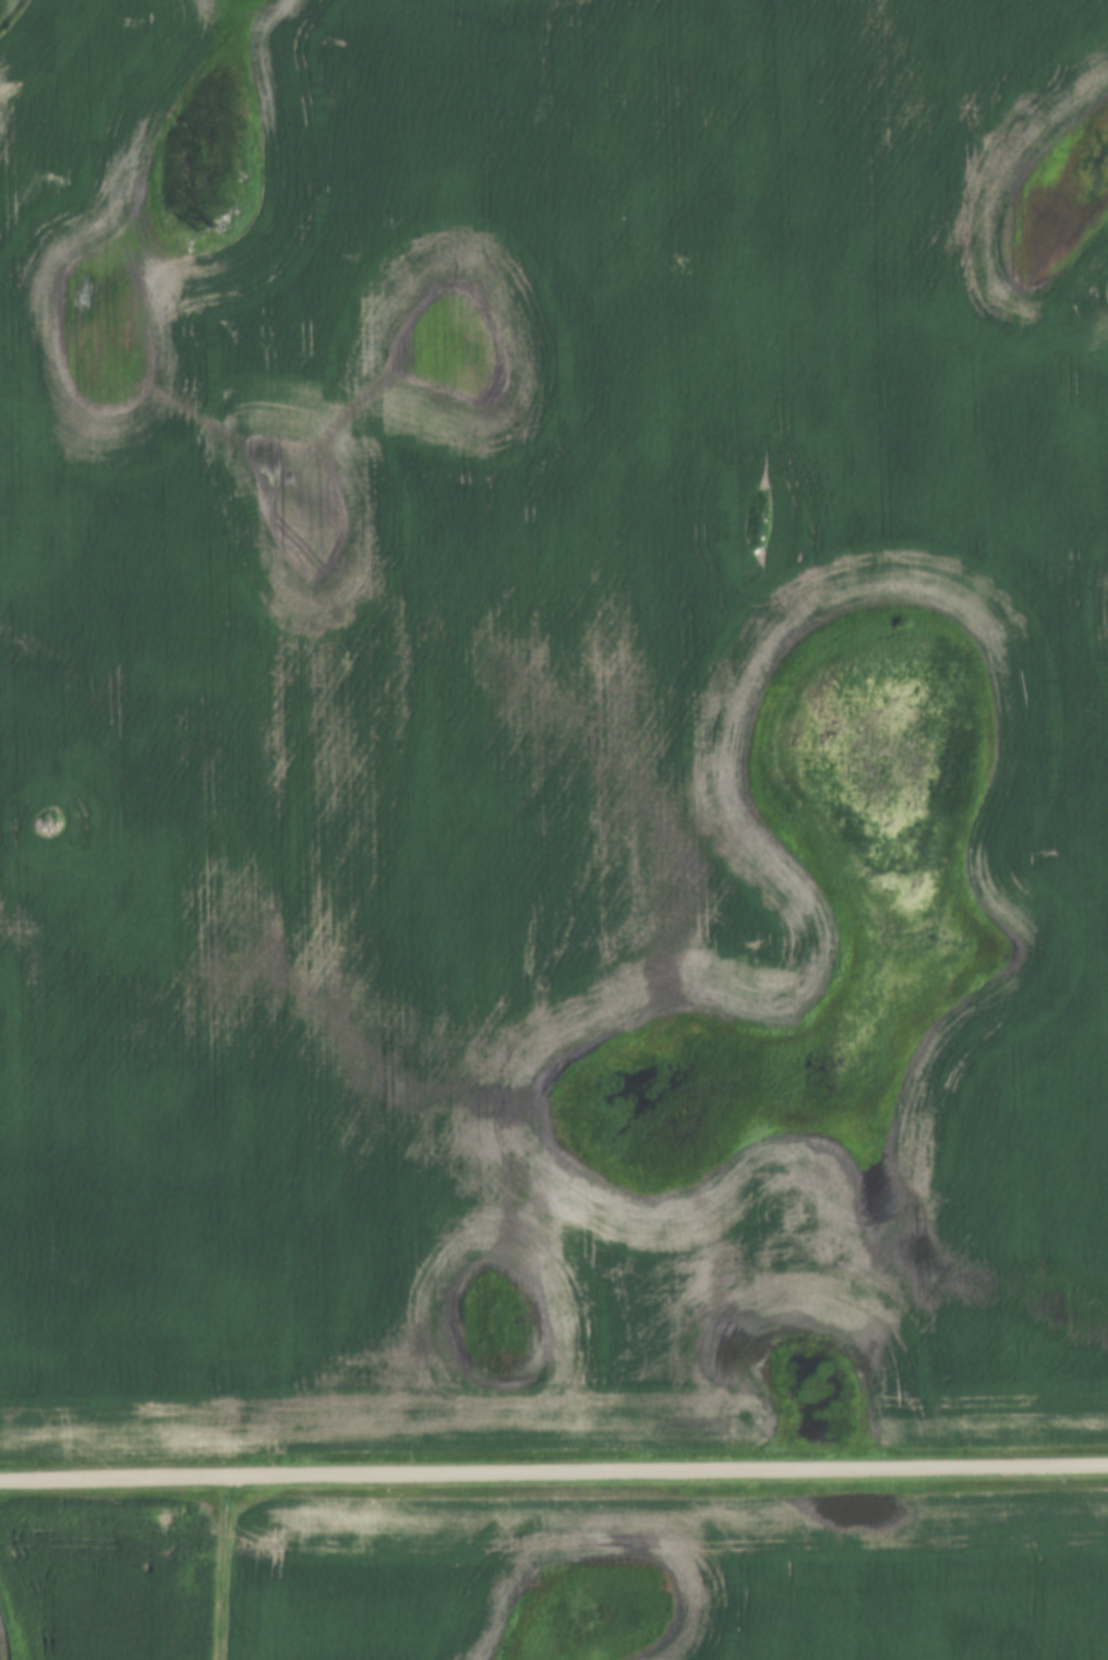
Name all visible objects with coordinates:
road: (553, 1475)

